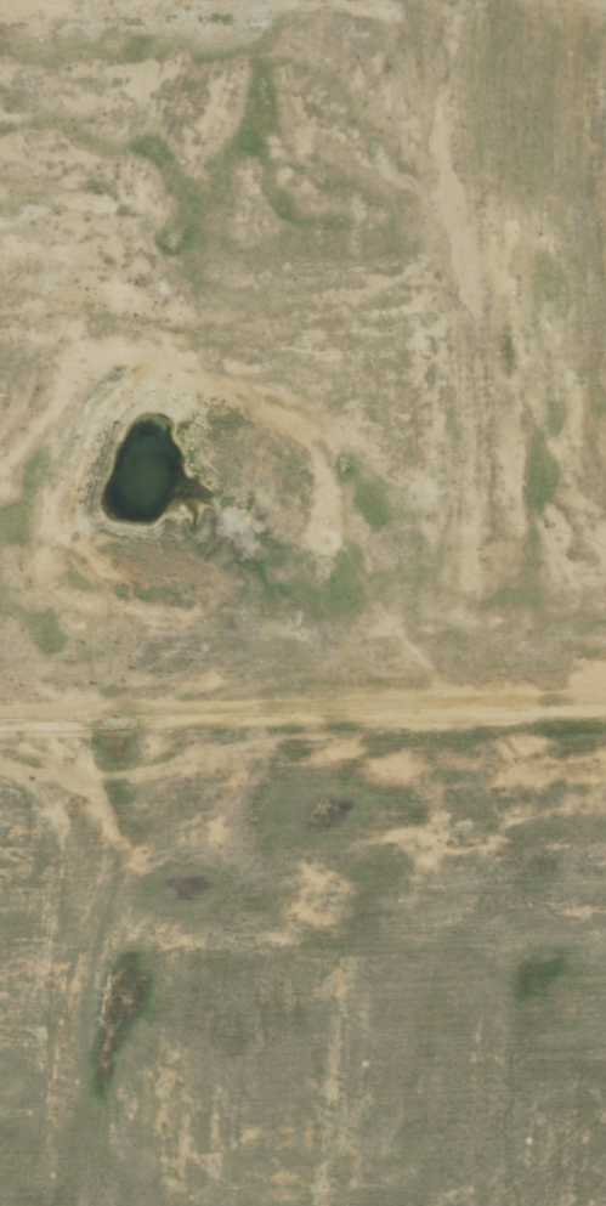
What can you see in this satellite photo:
road: (446, 351)
road: (401, 761)

